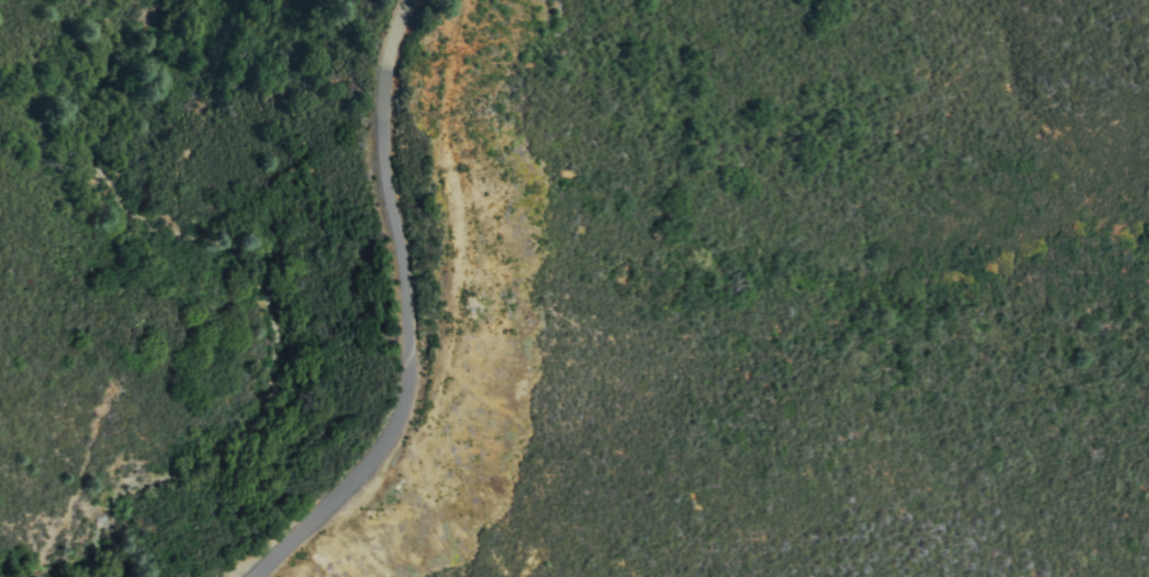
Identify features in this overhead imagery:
road: (411, 318)

